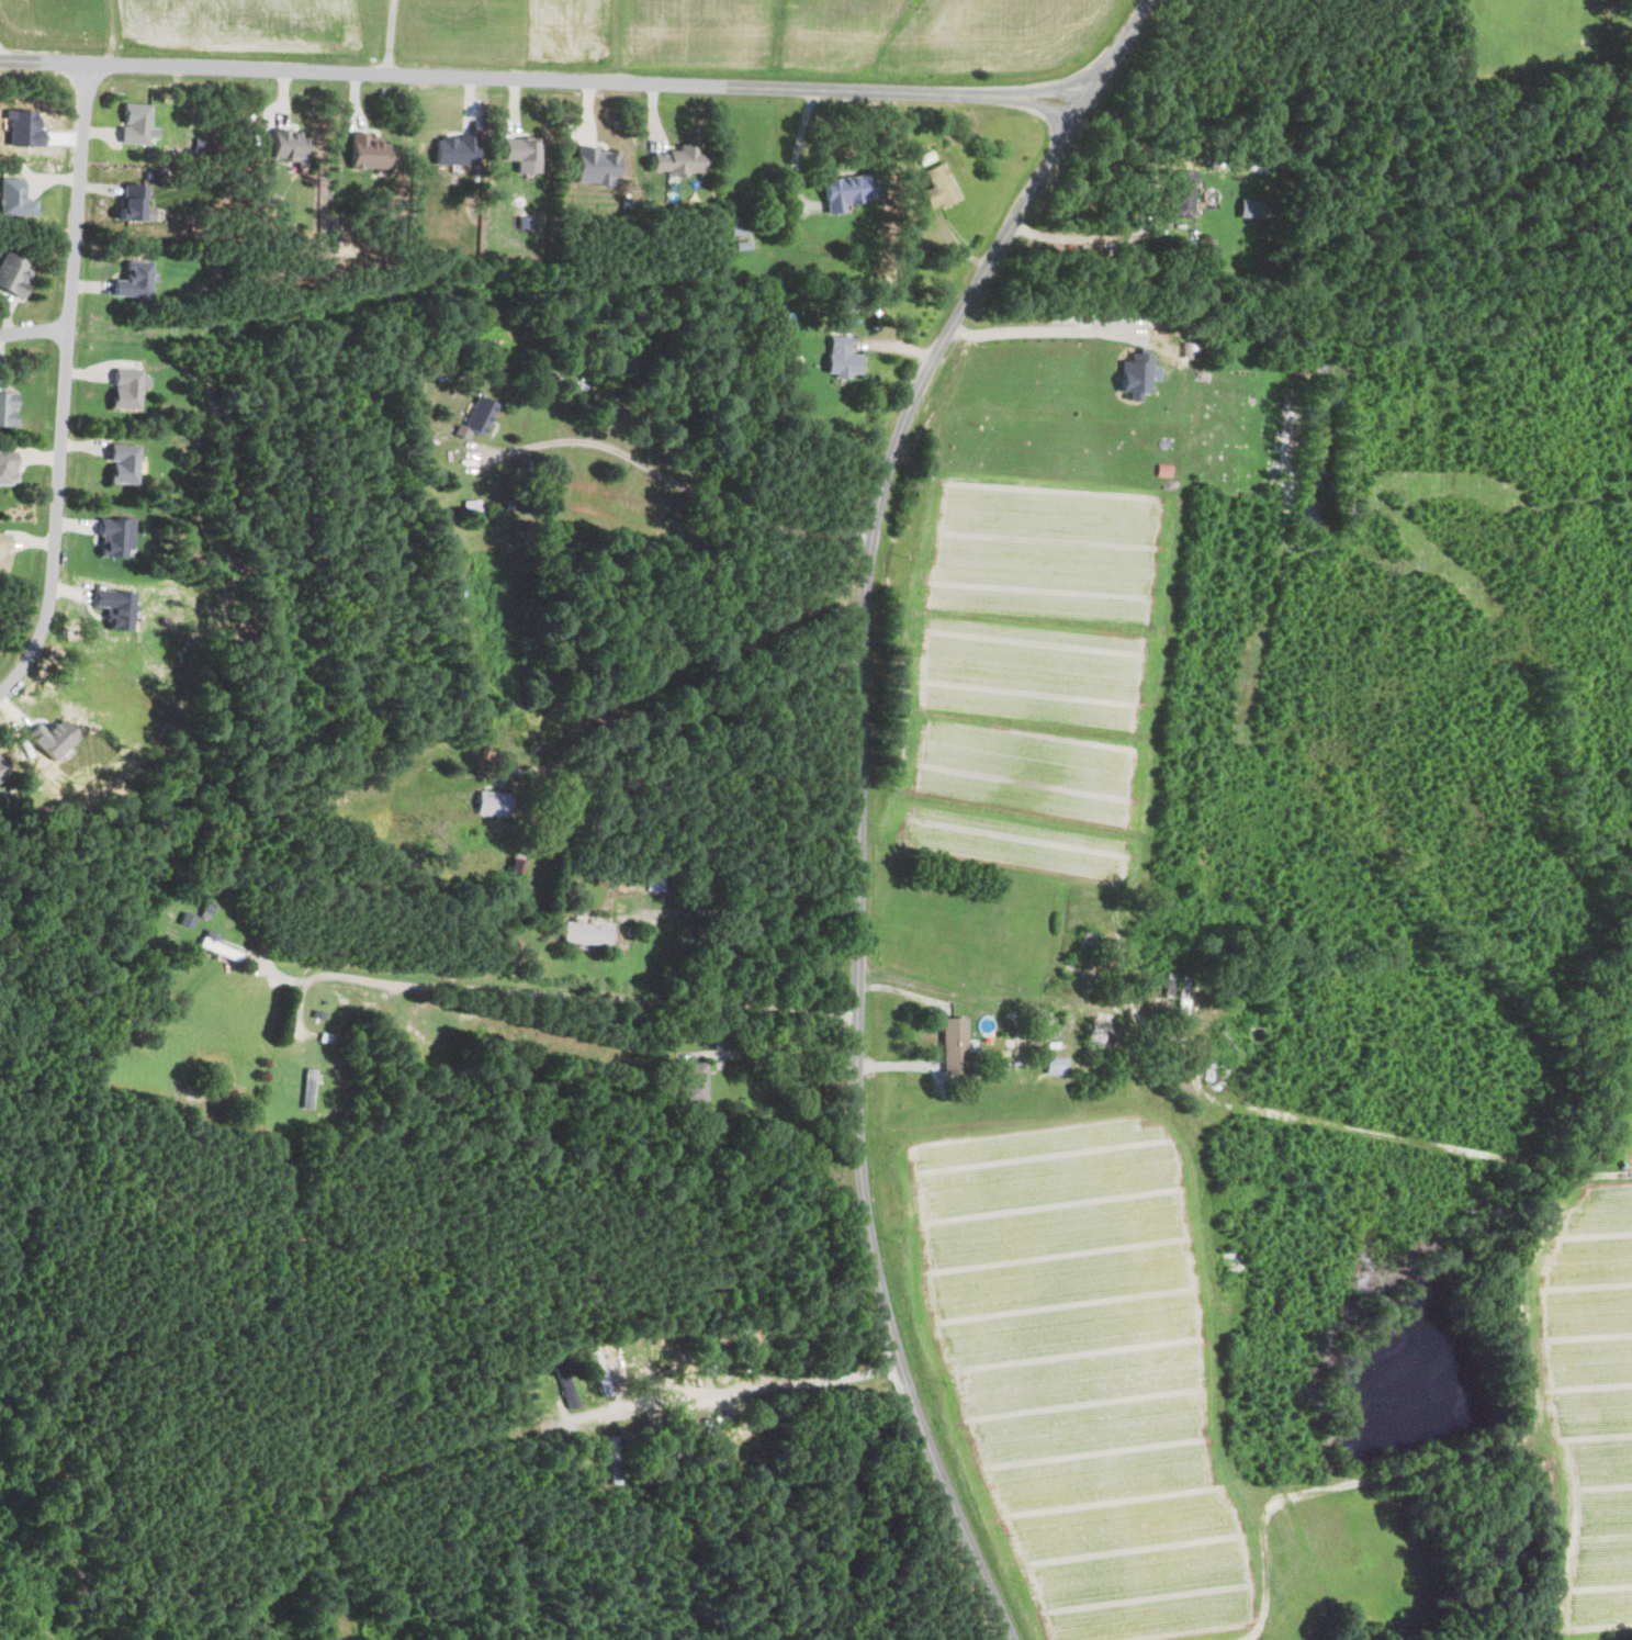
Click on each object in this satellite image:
road: (545, 83)
building: (131, 124)
building: (279, 145)
building: (451, 150)
building: (363, 153)
building: (518, 153)
building: (673, 160)
building: (592, 166)
road: (1076, 169)
building: (936, 188)
building: (840, 192)
building: (12, 200)
building: (1180, 200)
building: (128, 205)
building: (1248, 207)
road: (1078, 237)
building: (131, 281)
road: (1053, 323)
road: (34, 330)
building: (837, 358)
building: (1132, 377)
road: (63, 387)
building: (122, 389)
building: (5, 411)
building: (476, 416)
building: (119, 464)
building: (5, 469)
building: (110, 538)
building: (1, 552)
building: (111, 609)
building: (47, 739)
building: (1, 776)
road: (863, 795)
building: (486, 805)
road: (763, 916)
building: (585, 933)
building: (213, 945)
road: (249, 975)
road: (989, 999)
road: (561, 1009)
building: (1094, 1033)
building: (949, 1044)
building: (1053, 1066)
building: (693, 1080)
road: (706, 1402)

